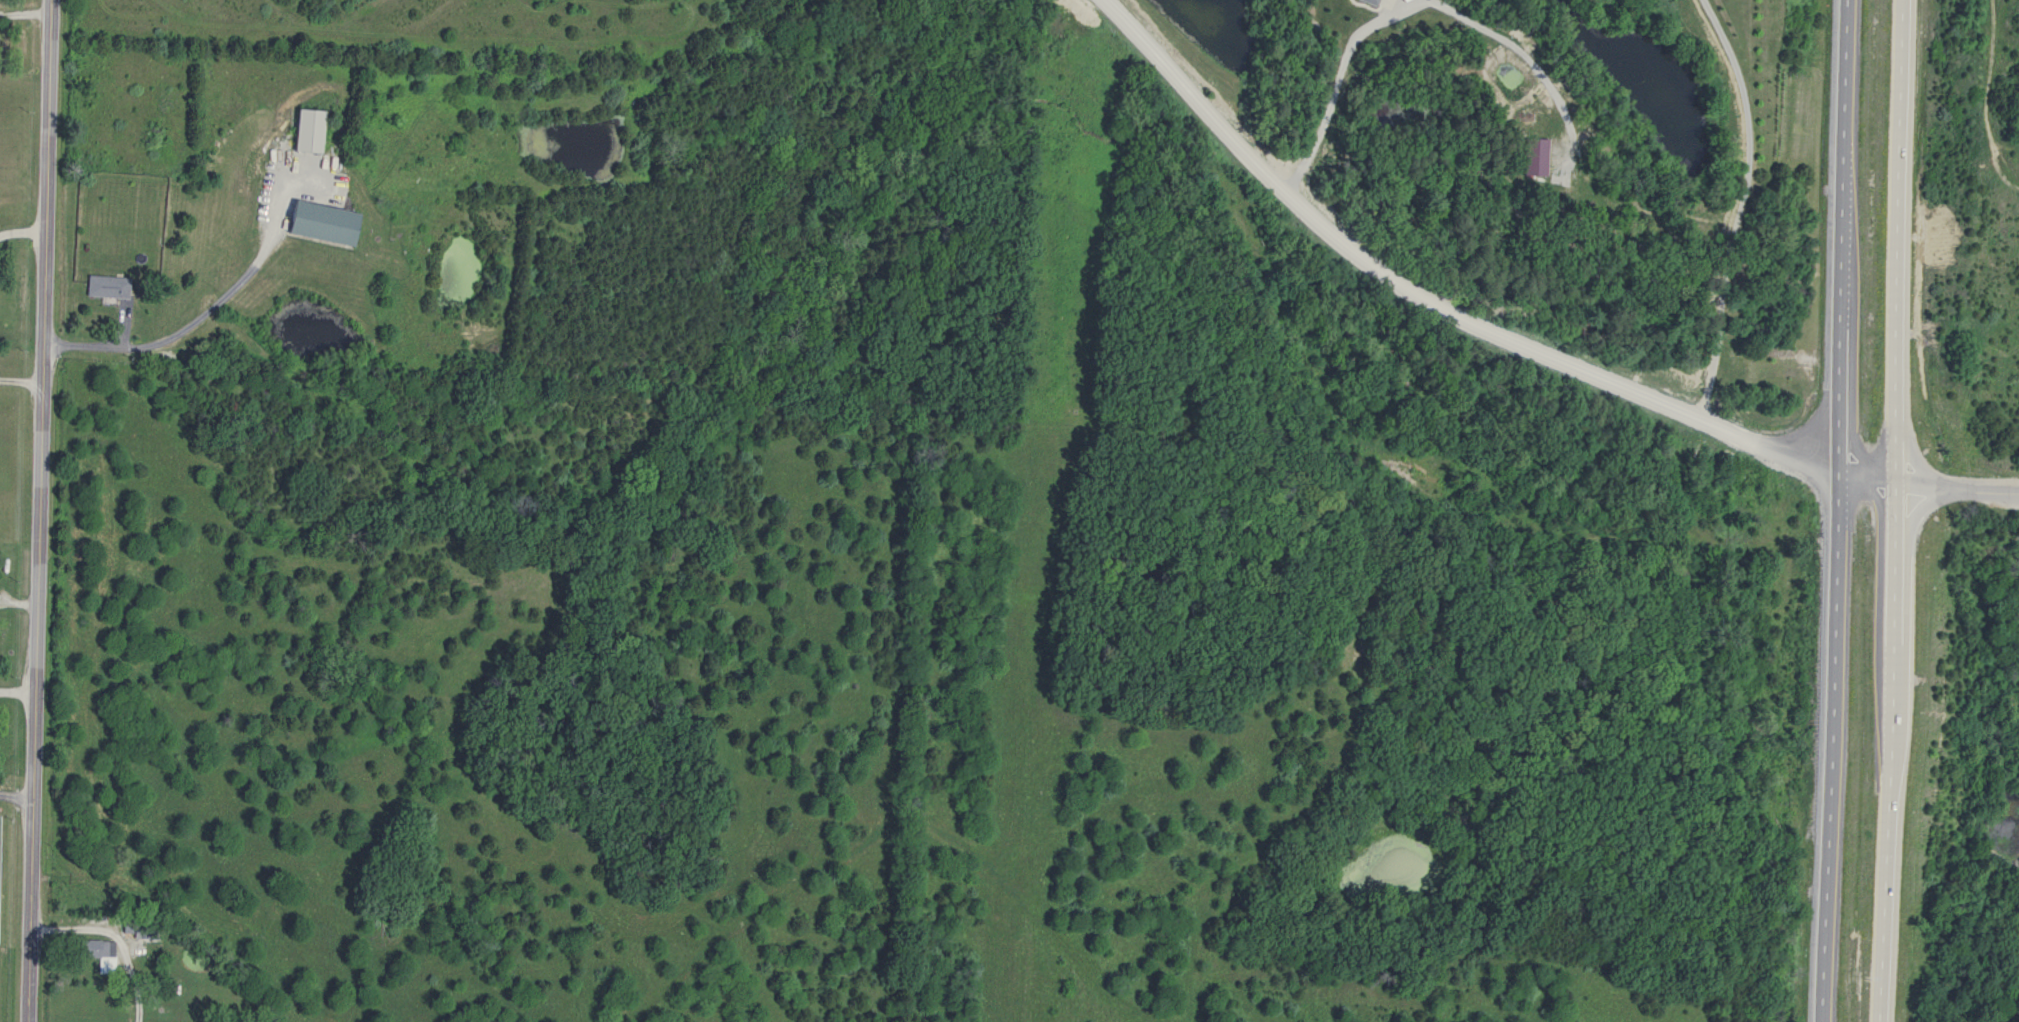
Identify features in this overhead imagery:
road: (1334, 82)
road: (1736, 207)
building: (318, 224)
road: (20, 230)
park: (1987, 242)
building: (104, 287)
road: (198, 314)
road: (1458, 316)
road: (19, 379)
road: (1964, 484)
road: (37, 510)
road: (1851, 511)
road: (1910, 511)
road: (16, 794)
building: (97, 954)

